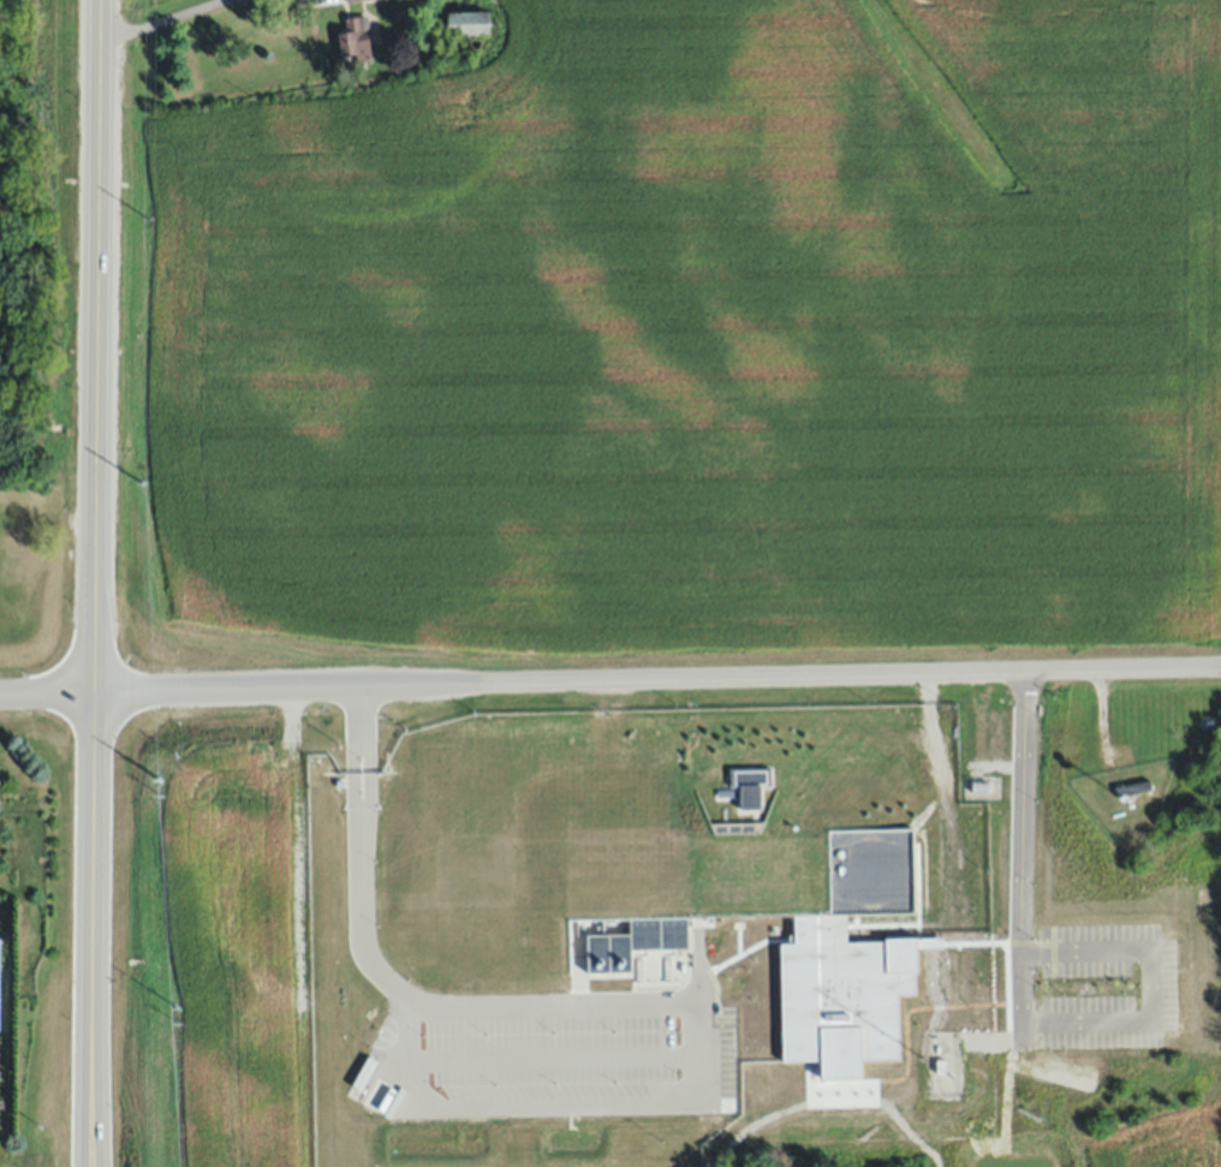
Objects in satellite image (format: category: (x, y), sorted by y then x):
building: (352, 0)
road: (166, 22)
building: (467, 23)
building: (355, 40)
road: (95, 306)
road: (609, 679)
building: (979, 786)
building: (1133, 787)
building: (749, 798)
road: (1020, 847)
road: (90, 891)
road: (604, 892)
building: (635, 943)
road: (1150, 986)
building: (799, 1018)
building: (940, 1065)
building: (889, 1088)
road: (580, 1103)

